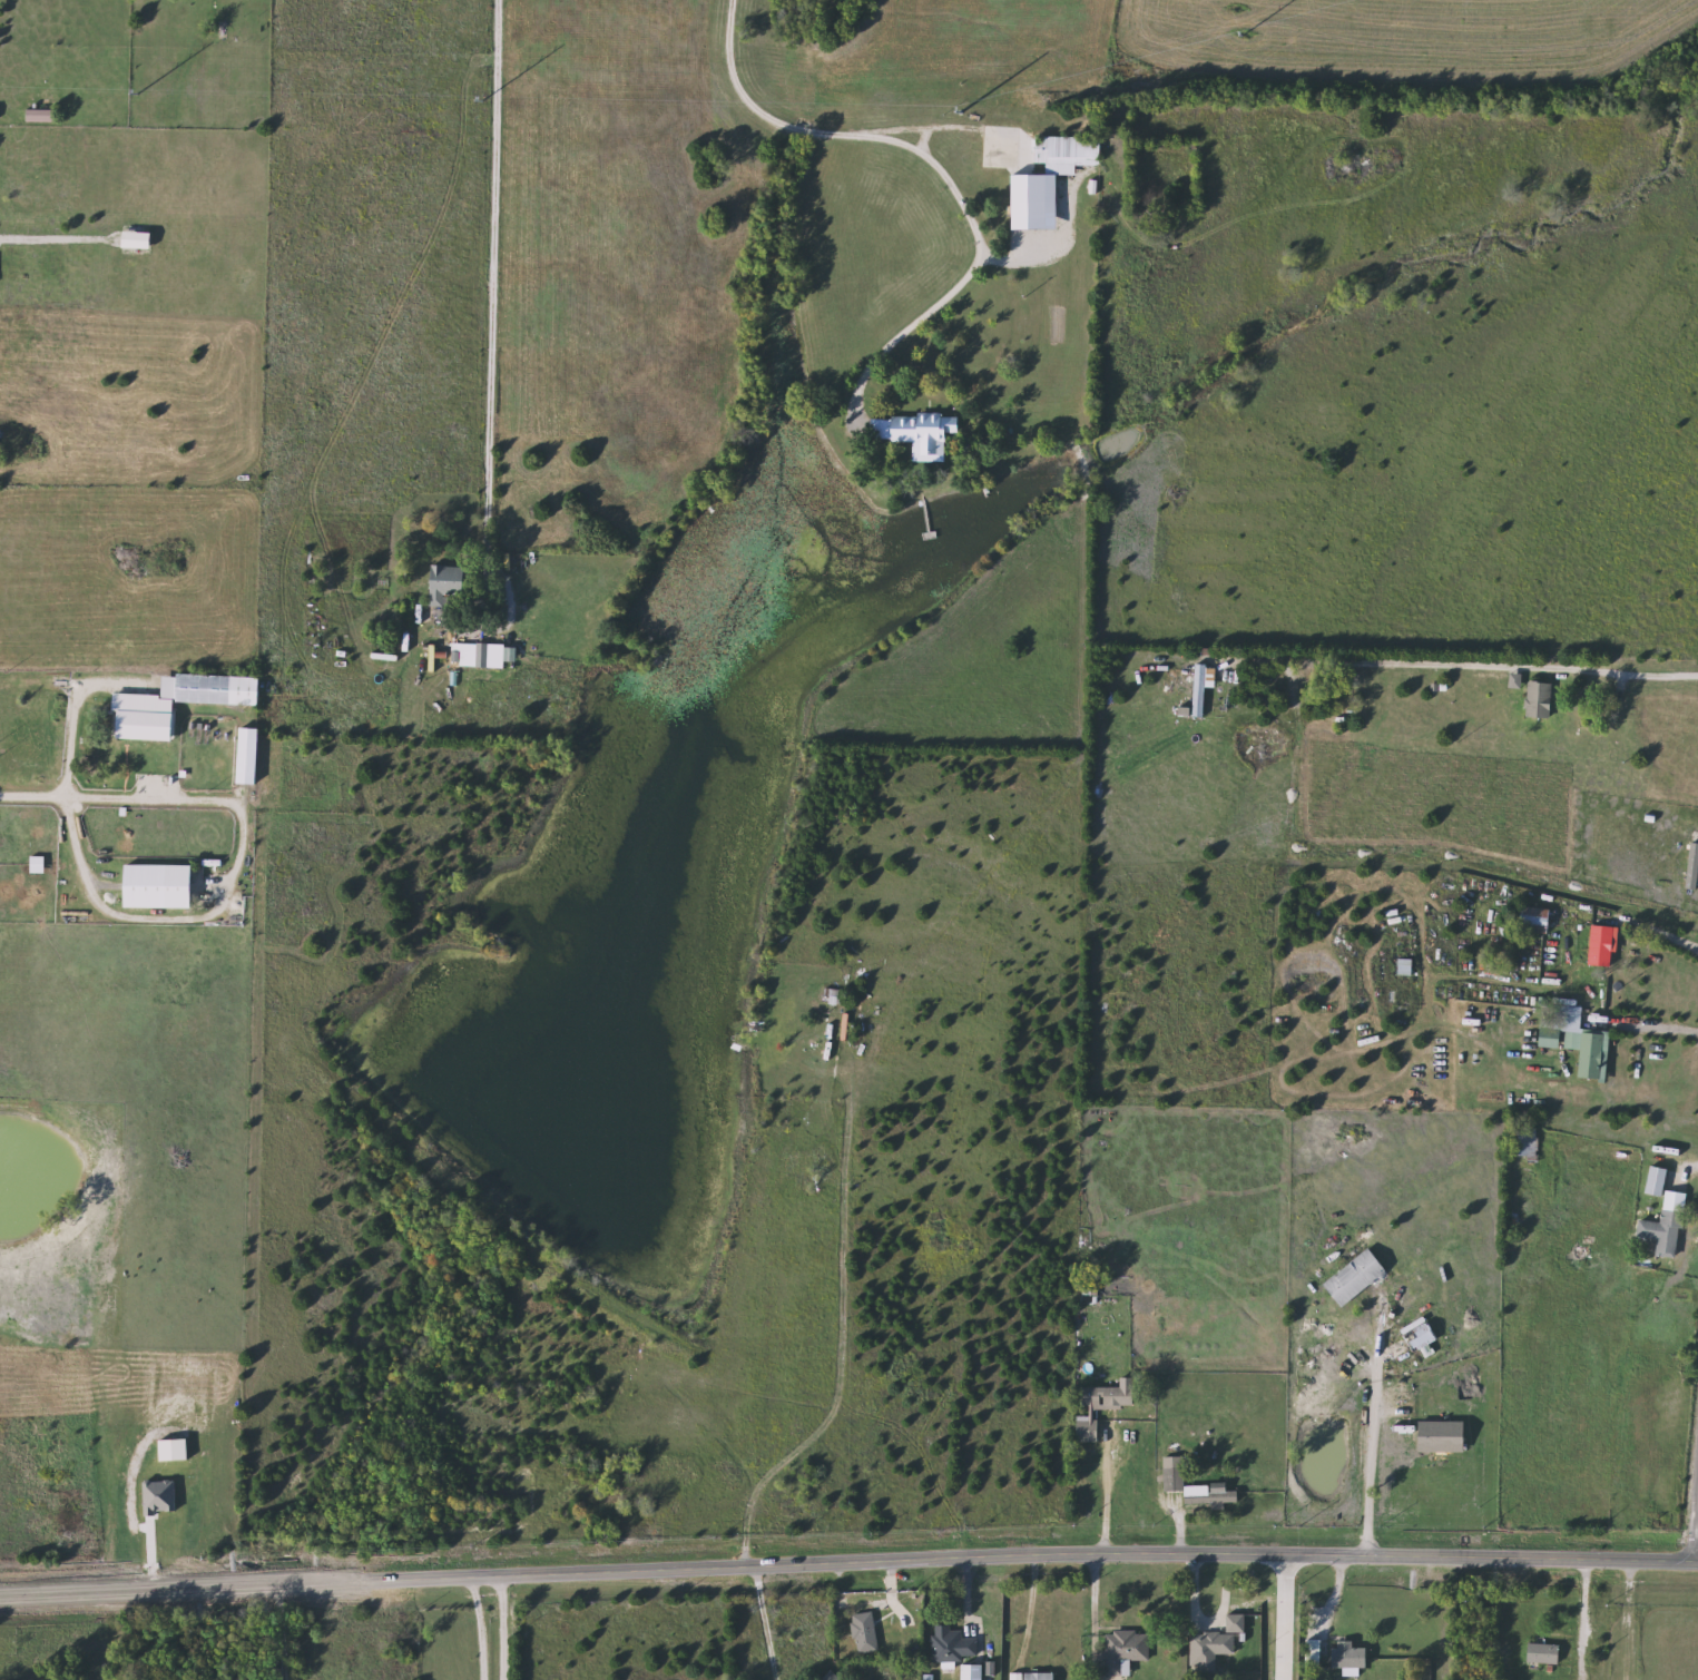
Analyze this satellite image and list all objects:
power tower: (1235, 16)
power tower: (130, 72)
power tower: (478, 83)
power tower: (961, 96)
building: (42, 116)
building: (1068, 154)
road: (936, 167)
road: (47, 237)
road: (492, 269)
building: (925, 430)
building: (448, 582)
building: (479, 655)
road: (1470, 665)
building: (212, 690)
building: (1200, 691)
building: (1541, 700)
building: (249, 756)
road: (118, 796)
road: (1406, 838)
building: (38, 865)
road: (88, 880)
building: (161, 887)
building: (1539, 922)
road: (1659, 934)
building: (1606, 952)
road: (1648, 1024)
building: (1576, 1039)
building: (827, 1050)
building: (1528, 1149)
building: (1666, 1215)
building: (1360, 1278)
building: (1092, 1290)
road: (845, 1330)
building: (1424, 1339)
building: (1092, 1413)
road: (1373, 1436)
building: (1444, 1437)
building: (1196, 1487)
road: (1106, 1497)
road: (1694, 1510)
road: (848, 1560)
road: (1031, 1608)
road: (1096, 1612)
road: (1280, 1615)
road: (1584, 1618)
road: (767, 1621)
road: (503, 1625)
road: (481, 1627)
road: (1208, 1627)
road: (278, 1631)
building: (866, 1632)
building: (953, 1644)
building: (1213, 1644)
building: (1126, 1650)
building: (1545, 1653)
building: (1352, 1658)
building: (975, 1672)
building: (1041, 1676)
building: (830, 1677)

